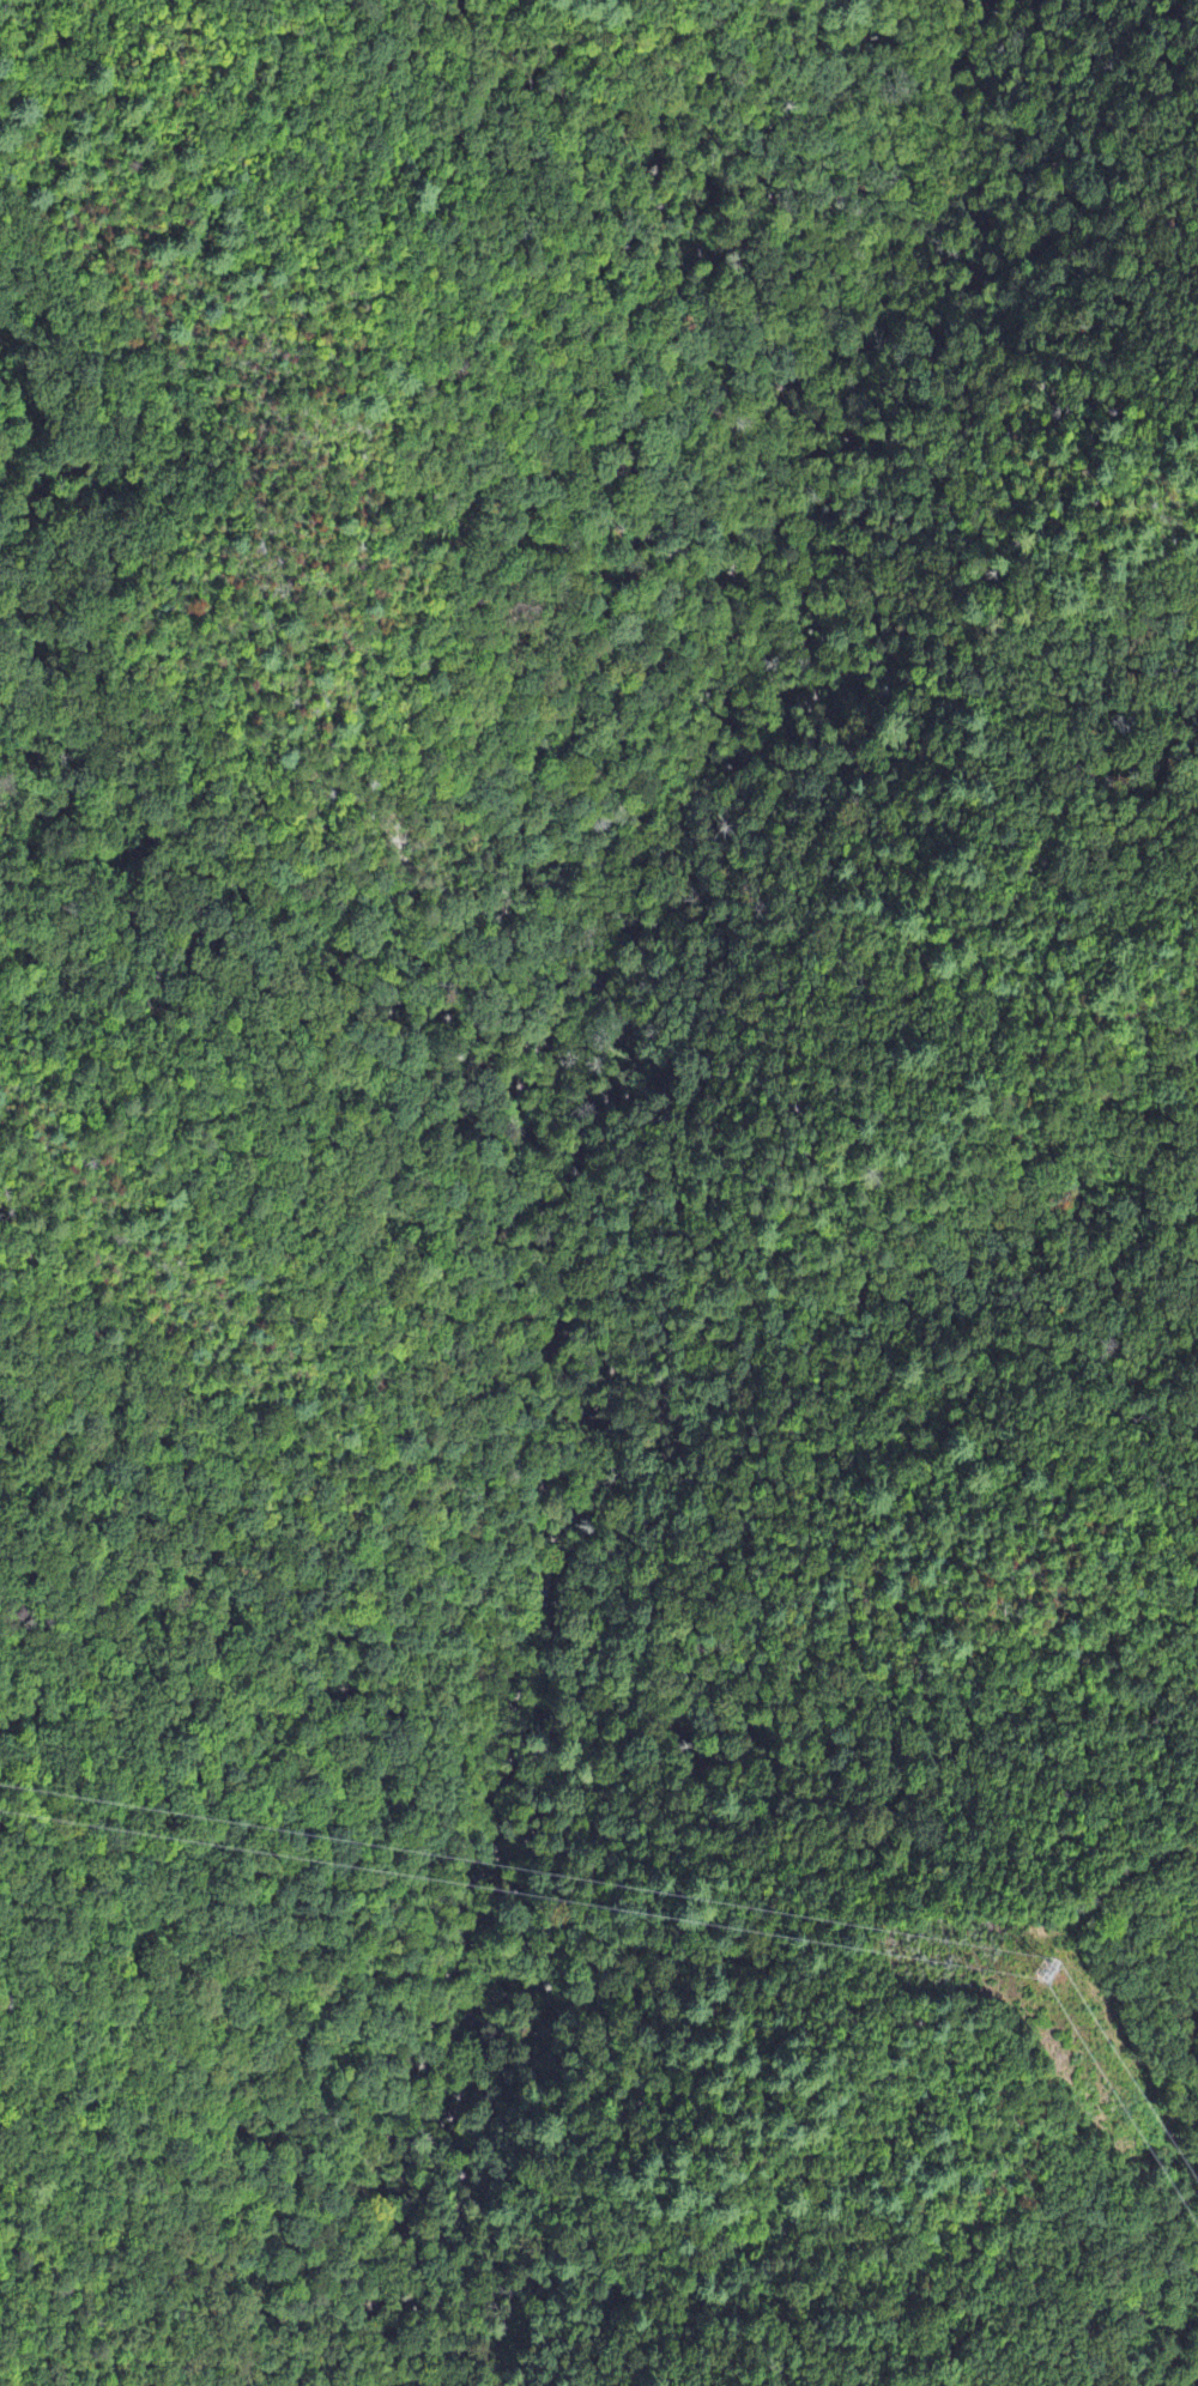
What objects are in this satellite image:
power tower: (1051, 1973)

